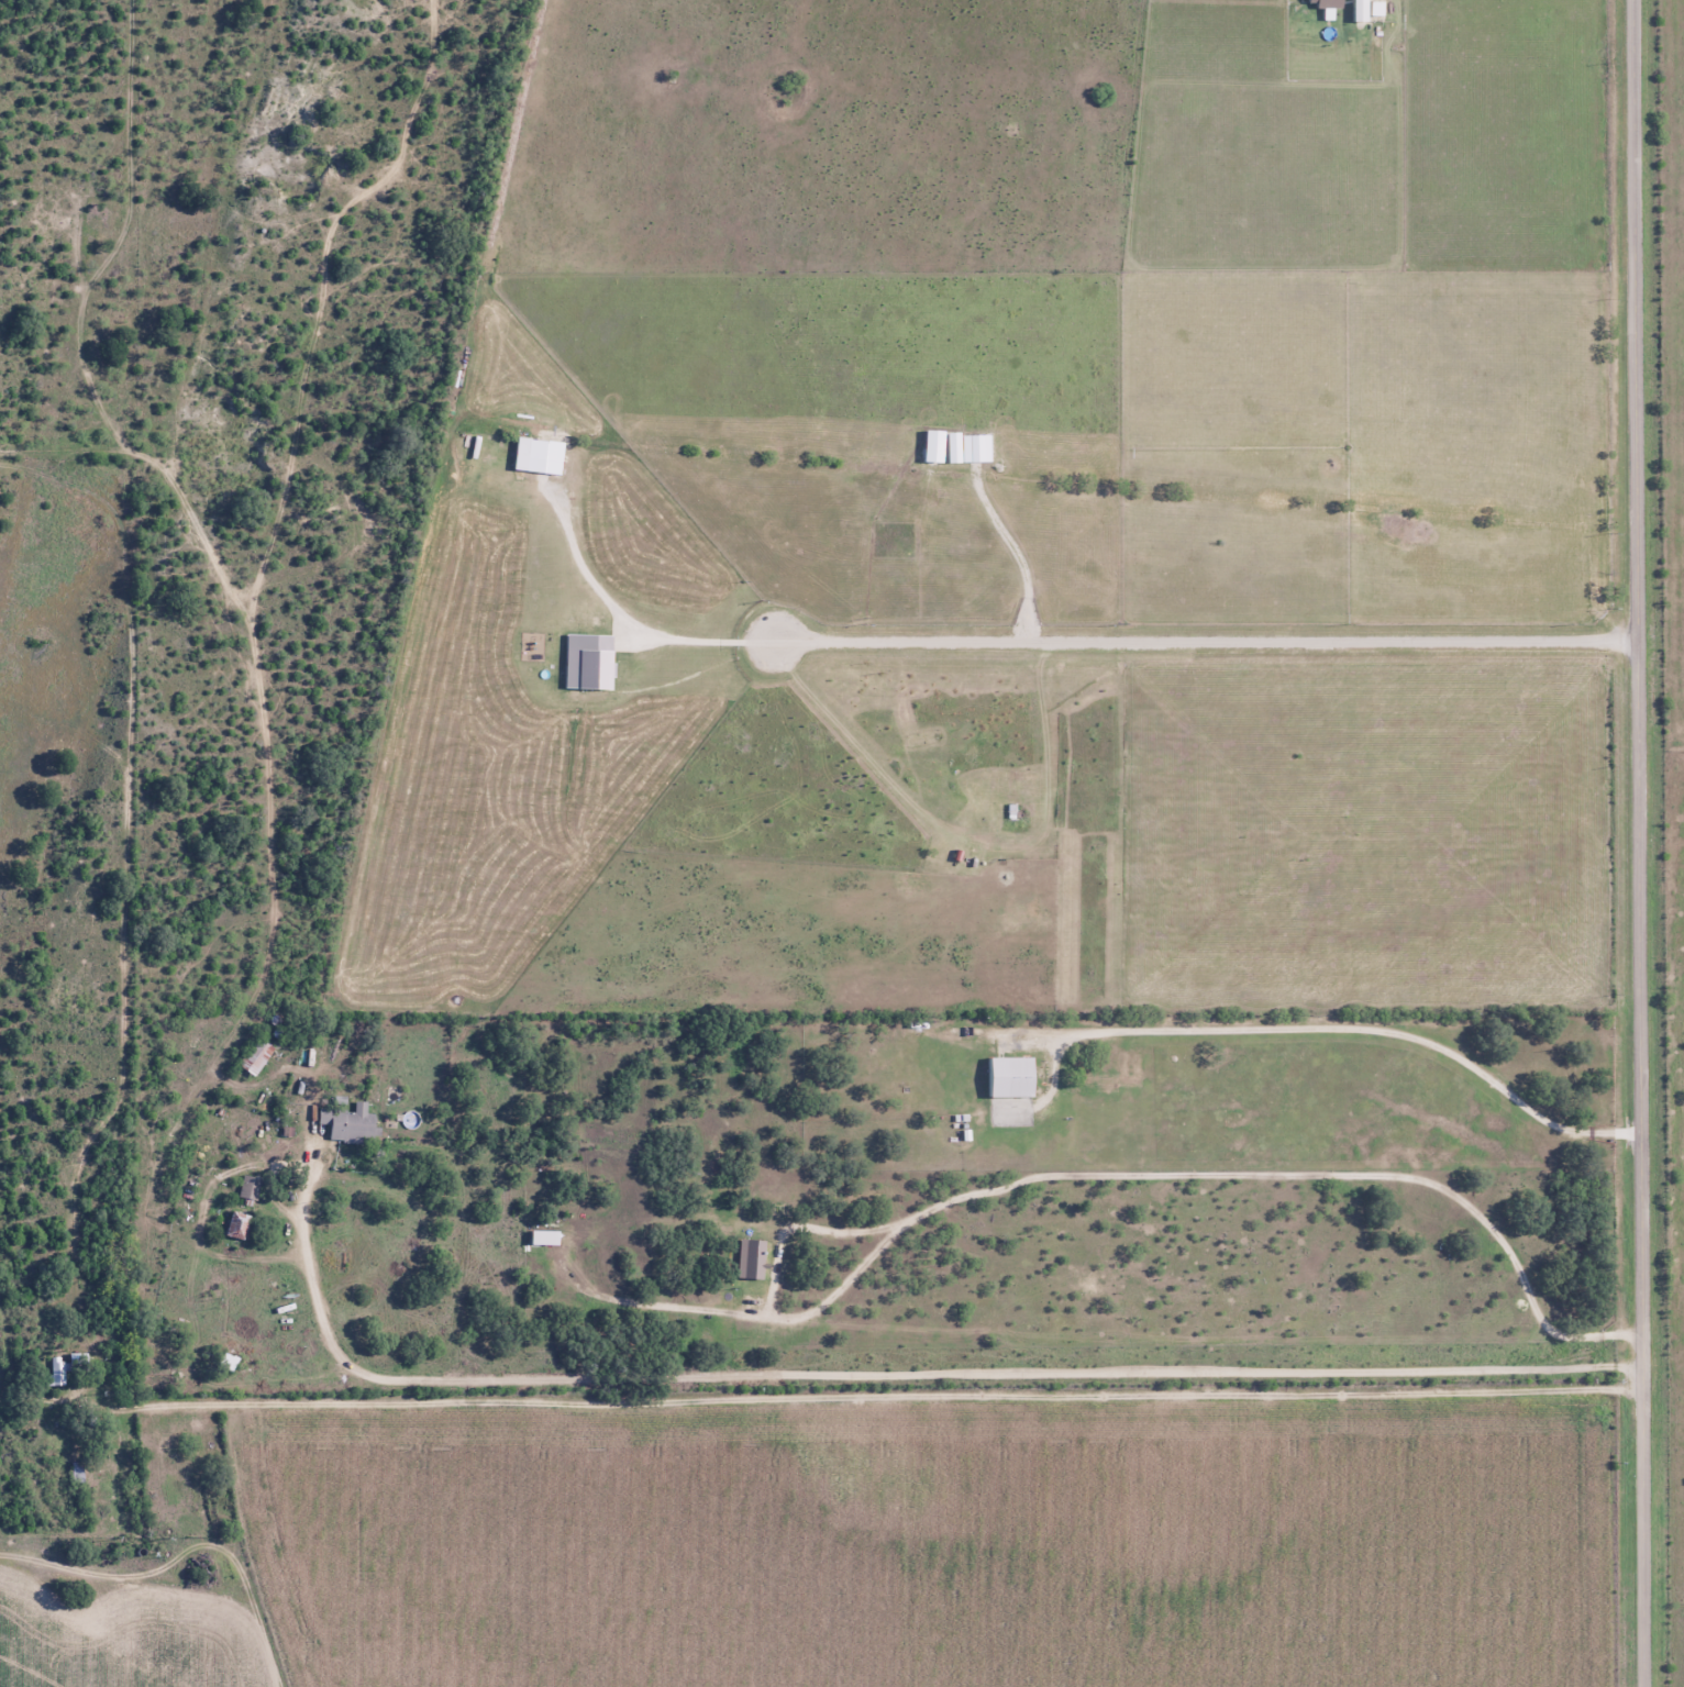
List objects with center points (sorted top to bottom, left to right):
road: (708, 641)
road: (1212, 642)
road: (1640, 843)
building: (253, 1056)
building: (1008, 1076)
building: (346, 1123)
building: (246, 1186)
building: (235, 1225)
building: (63, 1366)
road: (882, 1378)
road: (1603, 1392)
road: (855, 1400)
building: (73, 1472)
road: (107, 1605)

